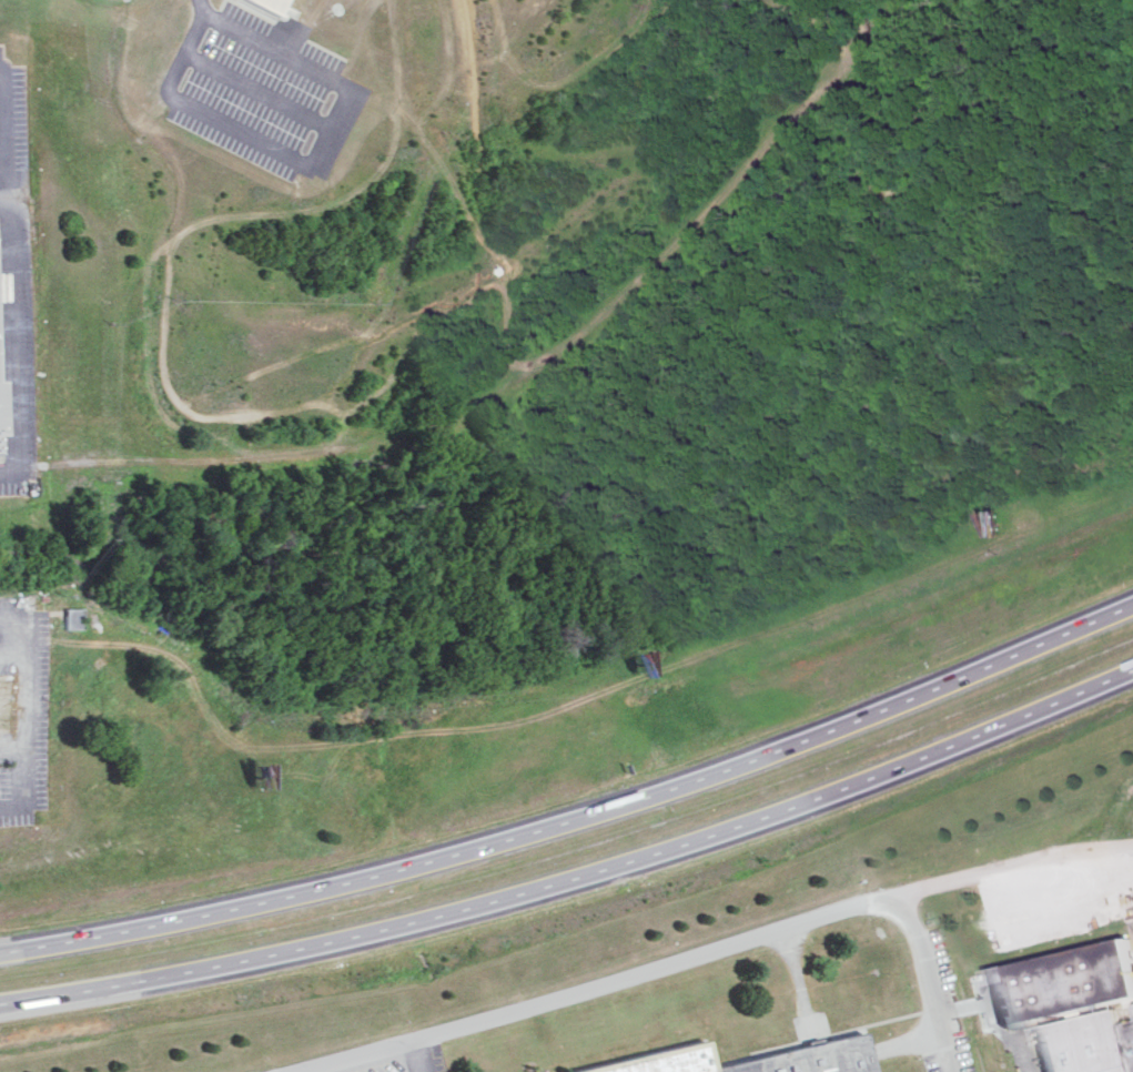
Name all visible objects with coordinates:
building: (265, 6)
road: (202, 8)
road: (0, 114)
road: (2, 138)
road: (1, 160)
road: (311, 163)
road: (16, 338)
building: (2, 411)
road: (9, 473)
building: (70, 616)
road: (12, 623)
road: (12, 656)
building: (8, 704)
road: (27, 714)
road: (14, 751)
road: (16, 807)
road: (578, 817)
road: (577, 872)
road: (929, 886)
road: (603, 982)
building: (1066, 1005)
road: (412, 1056)
building: (734, 1059)

